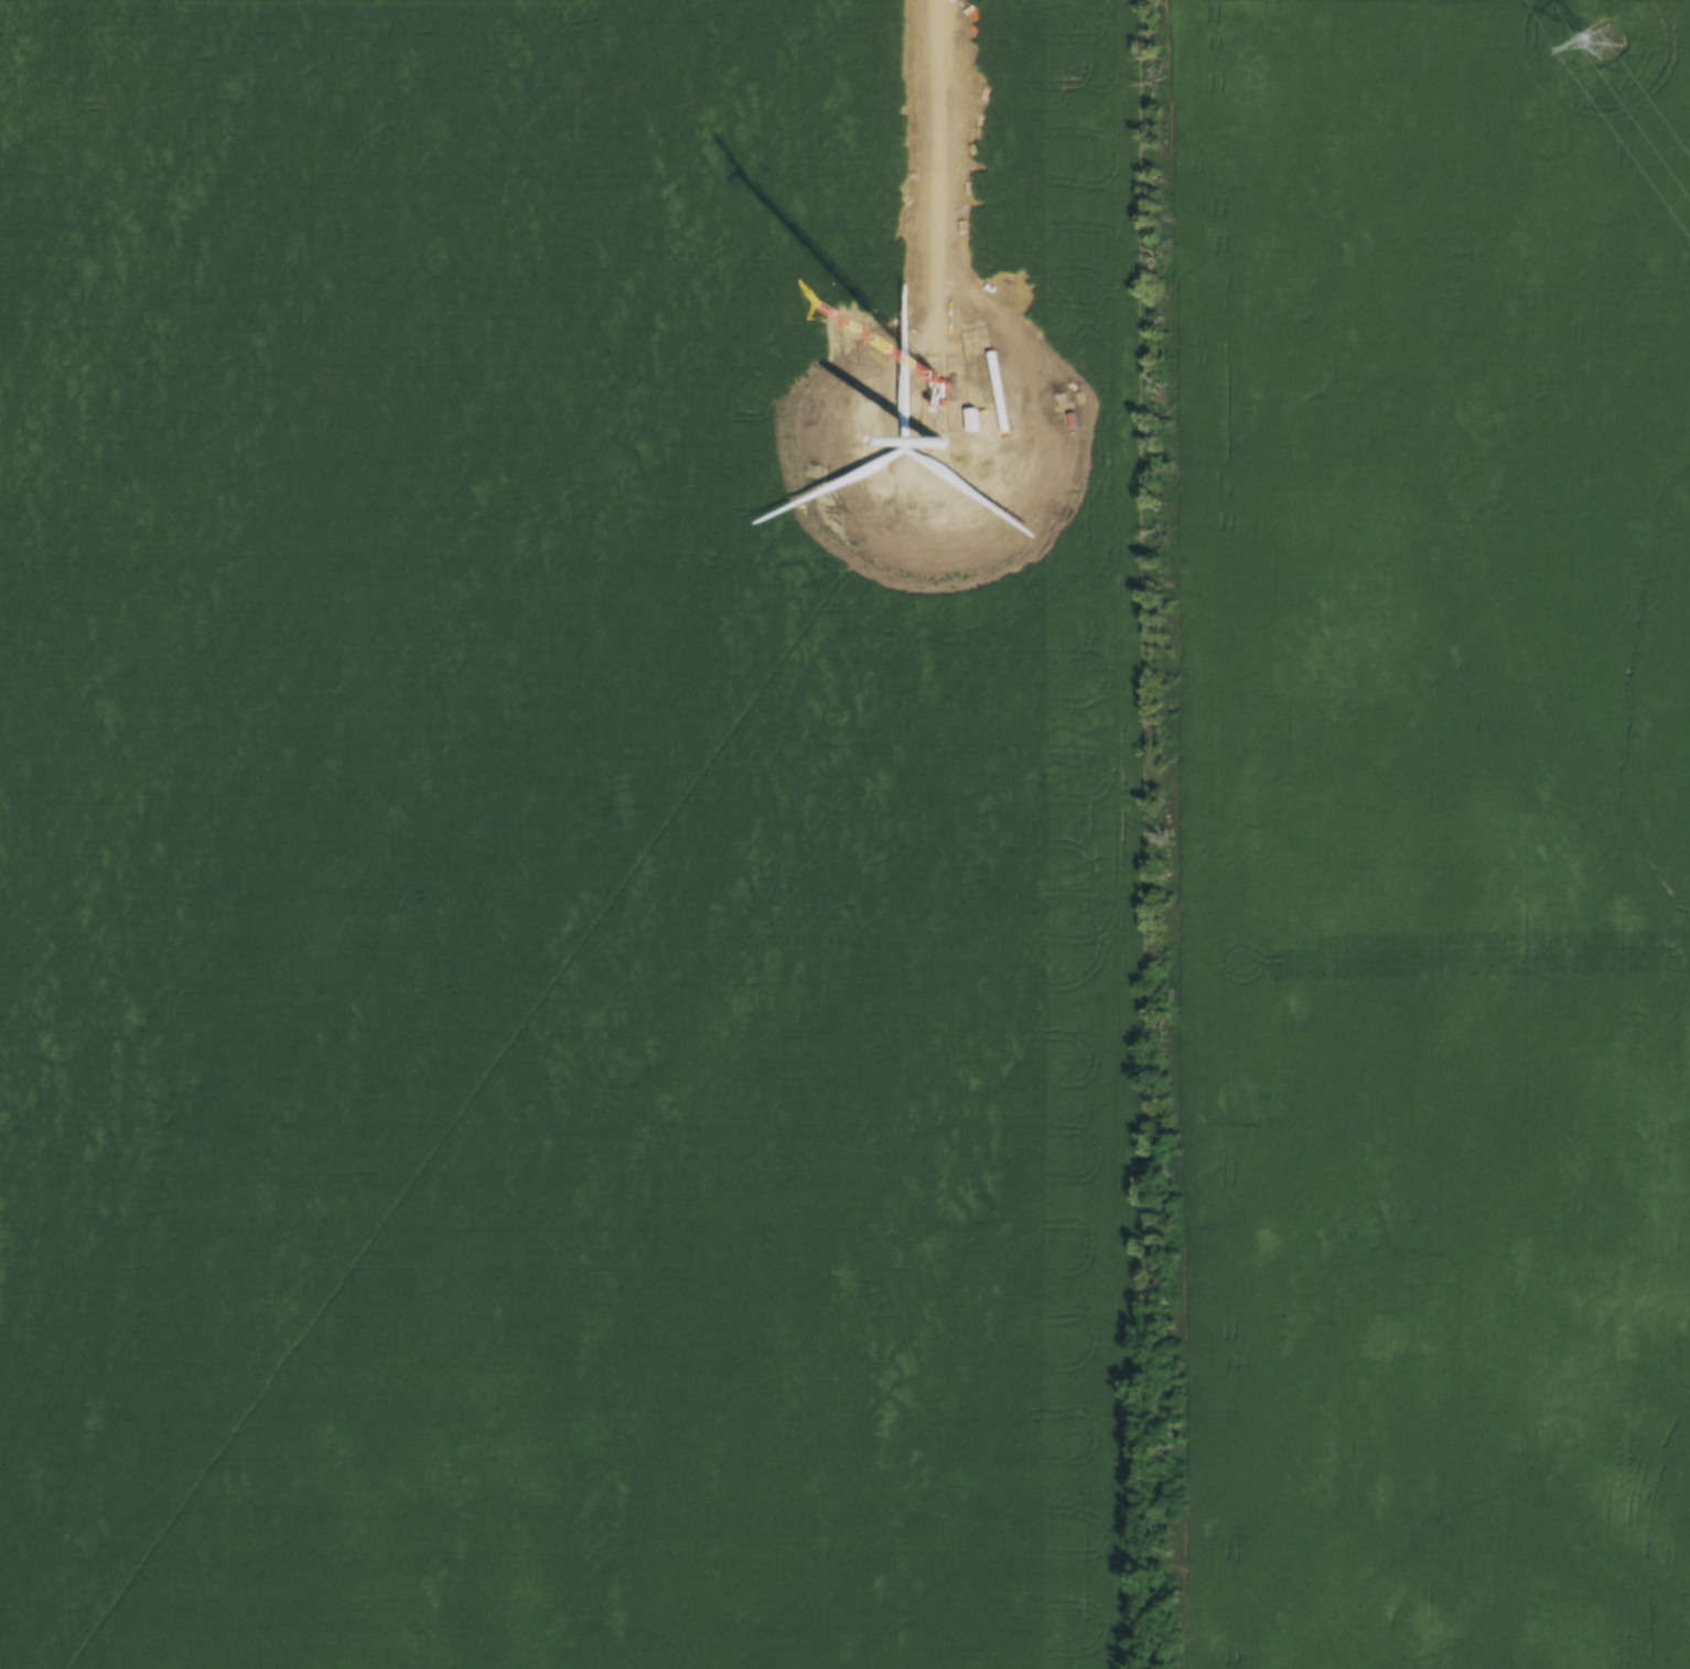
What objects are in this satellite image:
power tower: (1596, 40)
wind turbine: (933, 429)

